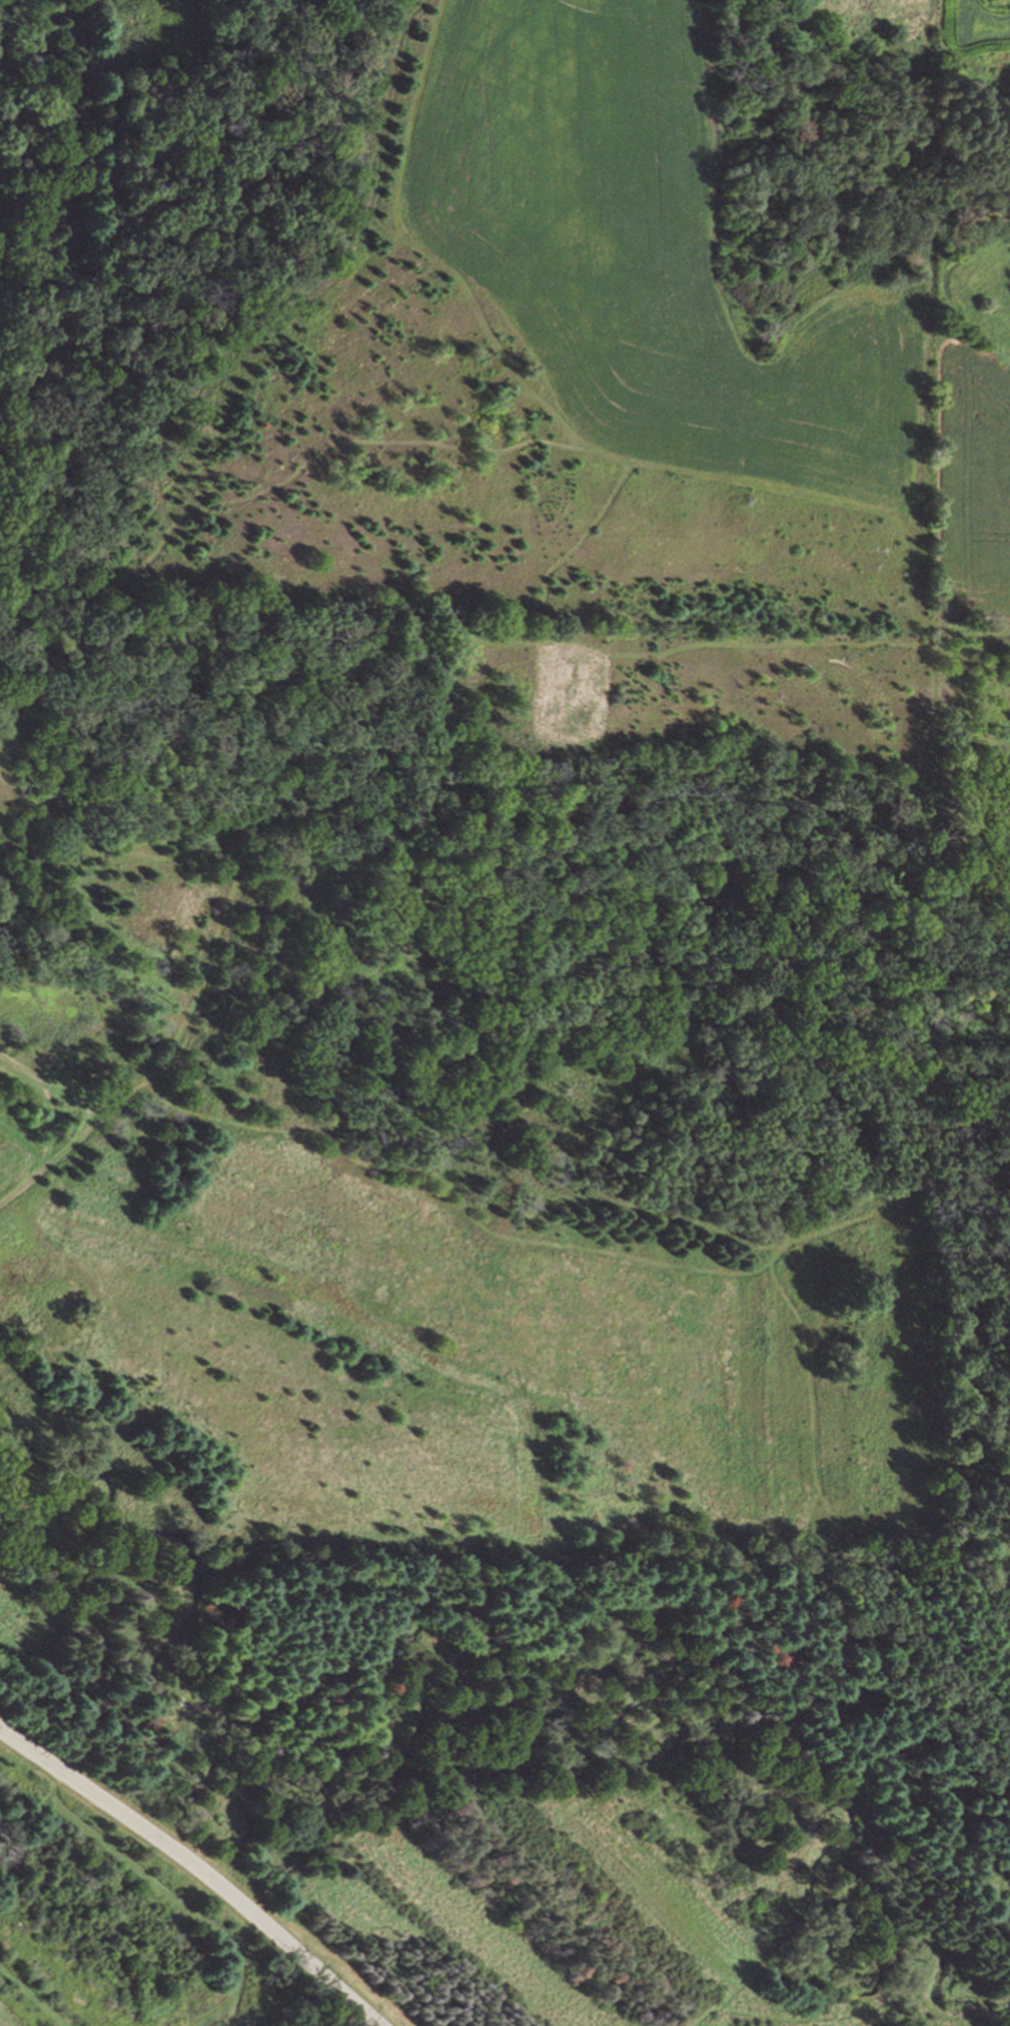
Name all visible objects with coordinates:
road: (212, 951)
road: (44, 1099)
river: (532, 1730)
road: (196, 1868)
road: (702, 2007)

